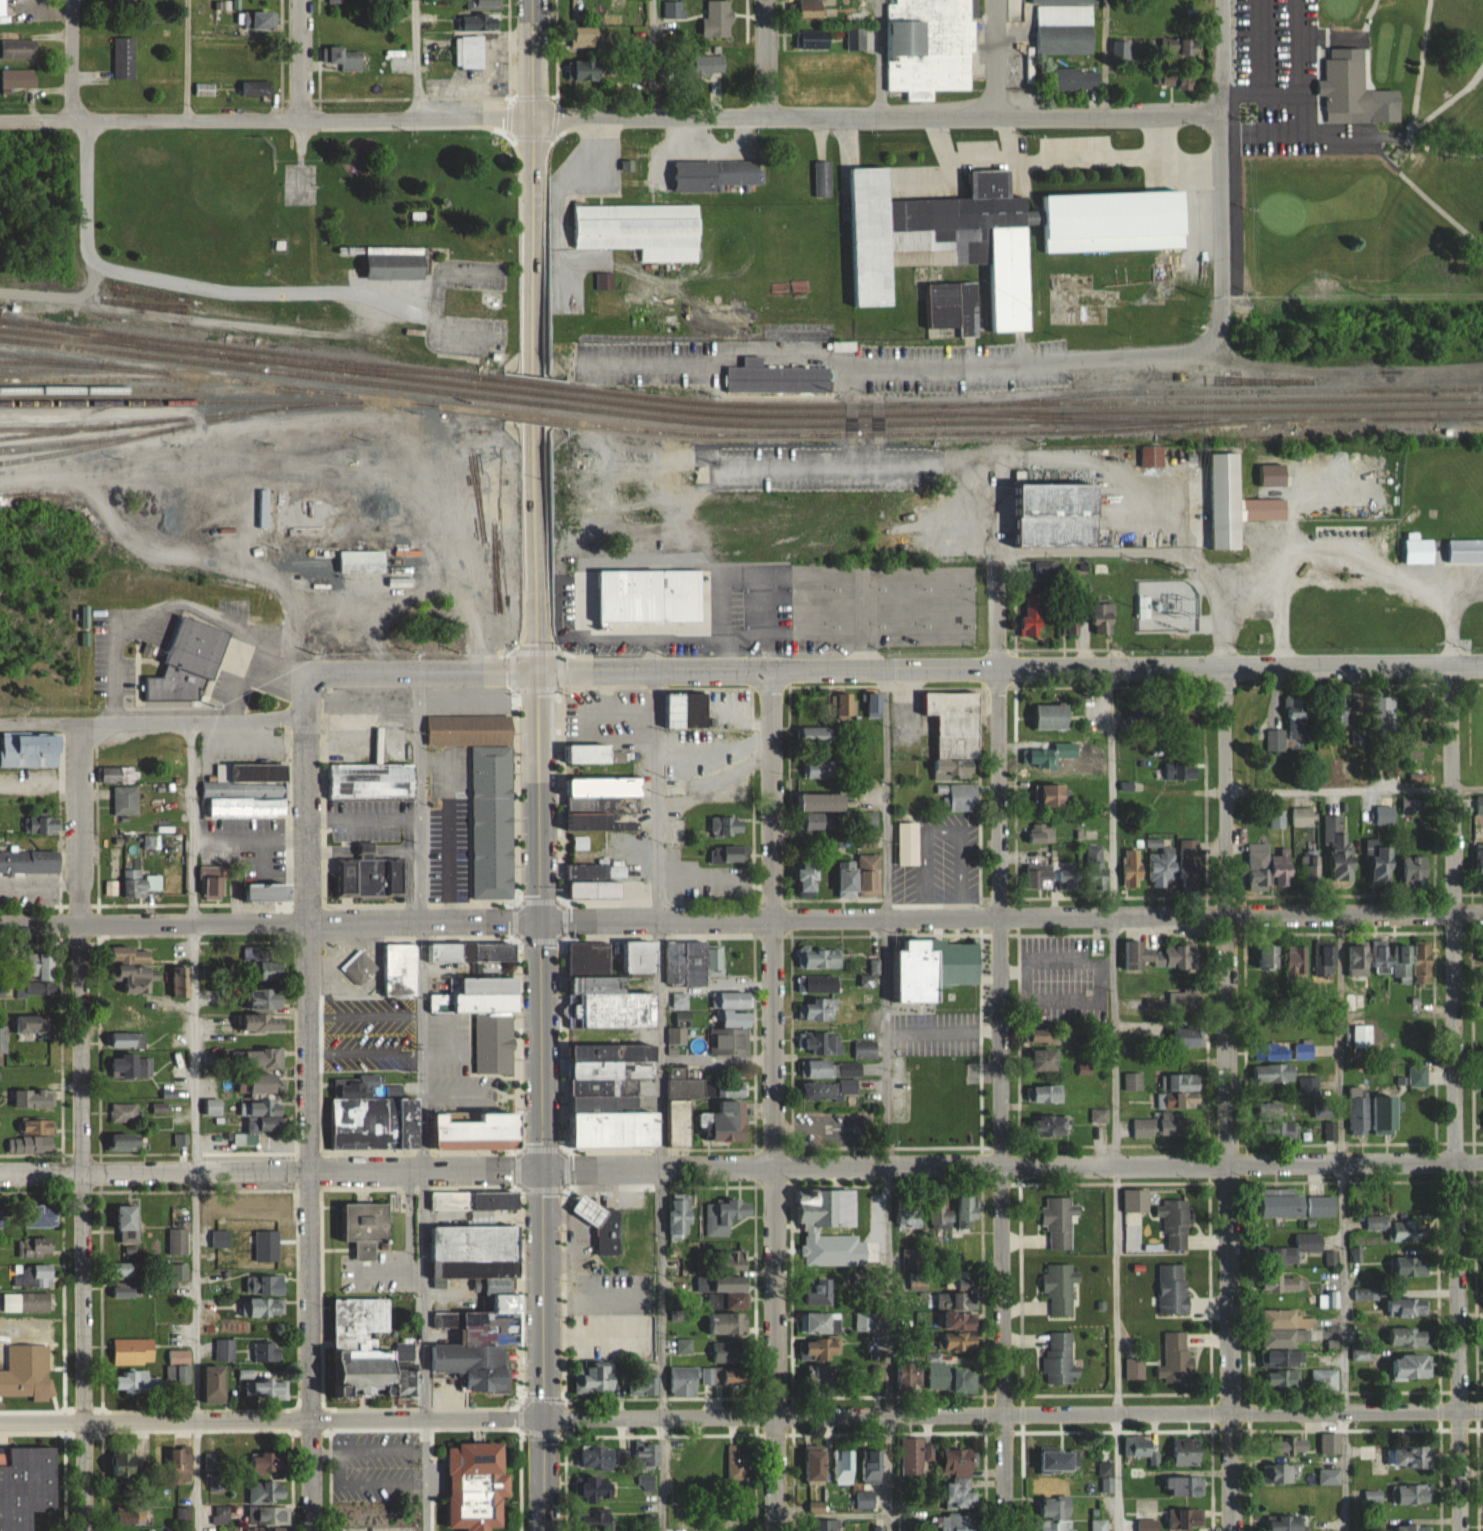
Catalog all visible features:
building: (344, 1)
building: (124, 4)
building: (482, 5)
road: (1373, 5)
building: (813, 8)
building: (718, 13)
building: (262, 21)
building: (481, 22)
building: (1064, 26)
building: (585, 37)
building: (812, 39)
building: (931, 46)
building: (1179, 47)
building: (18, 49)
building: (472, 52)
building: (124, 57)
road: (878, 57)
road: (995, 57)
road: (1222, 57)
road: (767, 58)
road: (415, 59)
road: (650, 59)
road: (73, 60)
road: (184, 60)
road: (306, 60)
building: (349, 61)
building: (709, 65)
building: (588, 70)
road: (1421, 70)
building: (18, 79)
building: (1077, 79)
building: (1168, 79)
parking lot: (1288, 80)
building: (257, 88)
building: (204, 89)
building: (1357, 90)
road: (1291, 97)
road: (1455, 98)
road: (880, 116)
road: (268, 120)
road: (1004, 137)
road: (1447, 137)
road: (1031, 158)
road: (1168, 164)
building: (714, 174)
building: (823, 179)
road: (1430, 195)
road: (1222, 214)
building: (1116, 222)
building: (641, 231)
building: (943, 240)
building: (396, 264)
road: (476, 269)
road: (201, 289)
road: (438, 292)
building: (954, 308)
railway: (1, 319)
building: (726, 320)
road: (468, 336)
railway: (112, 338)
railway: (110, 342)
railway: (239, 348)
road: (772, 349)
road: (1149, 355)
railway: (238, 359)
railway: (51, 361)
parking lot: (641, 363)
road: (649, 363)
parking lot: (954, 367)
road: (948, 368)
railway: (365, 369)
railway: (84, 370)
railway: (249, 370)
road: (1336, 373)
railway: (377, 376)
railway: (487, 378)
railway: (123, 380)
building: (776, 381)
railway: (249, 383)
railway: (533, 383)
railway: (170, 392)
railway: (1230, 392)
railway: (533, 395)
road: (805, 397)
railway: (1230, 401)
railway: (217, 402)
railway: (534, 406)
railway: (772, 407)
railway: (1230, 411)
railway: (958, 414)
railway: (752, 415)
railway: (534, 418)
railway: (180, 419)
railway: (1044, 419)
railway: (1462, 419)
railway: (1462, 420)
railway: (1296, 421)
railway: (1065, 424)
railway: (774, 425)
railway: (58, 428)
road: (419, 431)
railway: (930, 433)
railway: (138, 434)
building: (476, 445)
railway: (87, 448)
road: (166, 453)
road: (535, 459)
road: (823, 465)
parking lot: (821, 467)
road: (978, 483)
building: (263, 498)
building: (1236, 503)
building: (1060, 515)
building: (1419, 551)
building: (1465, 551)
road: (173, 556)
building: (363, 562)
building: (1146, 612)
building: (1032, 615)
building: (1103, 618)
road: (233, 626)
road: (117, 657)
building: (189, 664)
road: (1010, 669)
traffic signals: (538, 670)
road: (405, 671)
road: (245, 695)
building: (846, 704)
building: (875, 704)
building: (685, 710)
road: (117, 711)
building: (620, 711)
building: (1339, 714)
building: (1384, 714)
road: (1000, 716)
building: (1053, 717)
building: (1298, 719)
road: (152, 723)
building: (956, 733)
building: (816, 736)
building: (1275, 740)
road: (1225, 745)
building: (31, 750)
building: (590, 754)
building: (1041, 758)
building: (819, 769)
building: (1180, 771)
building: (119, 775)
building: (372, 779)
road: (1450, 787)
road: (1354, 790)
building: (249, 792)
road: (771, 794)
building: (485, 796)
building: (1050, 796)
building: (964, 797)
building: (125, 801)
building: (602, 802)
building: (825, 803)
building: (1479, 804)
building: (1384, 814)
road: (363, 815)
building: (1302, 816)
road: (306, 818)
building: (1276, 819)
building: (868, 820)
building: (820, 822)
road: (80, 823)
building: (42, 824)
building: (728, 827)
building: (1041, 833)
road: (249, 836)
building: (868, 841)
building: (908, 843)
building: (1339, 850)
building: (729, 855)
building: (29, 862)
building: (1479, 862)
building: (1381, 863)
building: (1190, 864)
building: (1257, 866)
building: (1096, 867)
building: (1161, 867)
building: (1416, 867)
building: (1132, 868)
building: (1282, 868)
building: (1310, 868)
building: (373, 876)
building: (1049, 876)
building: (810, 877)
building: (860, 877)
road: (40, 882)
building: (140, 883)
building: (213, 883)
building: (593, 883)
building: (270, 893)
road: (1011, 915)
road: (1114, 916)
traffic signals: (540, 920)
road: (270, 923)
building: (472, 951)
building: (132, 953)
building: (1153, 957)
building: (1270, 957)
building: (1381, 958)
building: (819, 959)
building: (1326, 959)
building: (1297, 960)
building: (266, 961)
building: (1424, 962)
building: (693, 963)
building: (42, 965)
building: (360, 968)
building: (937, 968)
building: (402, 969)
building: (211, 975)
building: (870, 976)
building: (138, 977)
building: (179, 980)
building: (818, 983)
building: (611, 985)
building: (32, 988)
building: (268, 997)
building: (732, 999)
building: (679, 1000)
building: (1180, 1000)
building: (820, 1009)
building: (488, 1017)
building: (733, 1017)
building: (262, 1021)
building: (127, 1022)
building: (35, 1023)
building: (398, 1027)
building: (358, 1034)
building: (676, 1035)
building: (1047, 1035)
building: (1363, 1036)
building: (1189, 1037)
building: (3, 1039)
building: (127, 1039)
building: (729, 1040)
building: (822, 1041)
building: (866, 1049)
building: (1273, 1051)
building: (1304, 1051)
building: (264, 1056)
building: (360, 1056)
building: (1047, 1059)
building: (131, 1066)
building: (832, 1068)
building: (37, 1072)
building: (1275, 1073)
building: (1419, 1076)
building: (1134, 1081)
building: (259, 1082)
building: (1182, 1082)
building: (1311, 1087)
building: (733, 1089)
building: (831, 1089)
building: (0, 1093)
building: (1048, 1093)
building: (615, 1095)
building: (35, 1097)
road: (660, 1100)
road: (886, 1100)
building: (1184, 1100)
road: (421, 1101)
building: (683, 1105)
building: (214, 1106)
building: (1360, 1111)
building: (125, 1112)
building: (1324, 1113)
building: (1386, 1113)
building: (1100, 1115)
building: (375, 1117)
building: (259, 1120)
building: (726, 1122)
building: (39, 1125)
building: (1051, 1125)
building: (1277, 1125)
road: (193, 1126)
building: (1163, 1126)
building: (482, 1131)
building: (126, 1141)
building: (35, 1144)
road: (1014, 1165)
traffic signals: (546, 1169)
road: (273, 1171)
building: (1137, 1200)
building: (1298, 1205)
building: (826, 1207)
building: (970, 1210)
building: (256, 1211)
building: (943, 1211)
building: (910, 1213)
building: (681, 1214)
building: (726, 1215)
building: (42, 1216)
building: (1, 1219)
building: (1060, 1220)
road: (1231, 1222)
road: (1342, 1222)
road: (1455, 1222)
building: (129, 1223)
road: (1001, 1223)
building: (1176, 1223)
road: (773, 1224)
road: (545, 1225)
building: (602, 1225)
road: (308, 1227)
building: (367, 1227)
road: (84, 1228)
building: (1399, 1228)
building: (178, 1241)
building: (221, 1241)
building: (1298, 1247)
building: (36, 1248)
building: (266, 1257)
building: (732, 1259)
building: (1409, 1265)
building: (916, 1269)
building: (128, 1271)
building: (179, 1272)
building: (35, 1276)
building: (1284, 1282)
building: (962, 1284)
building: (266, 1285)
building: (1060, 1288)
building: (1174, 1288)
building: (126, 1289)
building: (733, 1289)
building: (820, 1289)
building: (1365, 1294)
building: (503, 1295)
building: (715, 1301)
building: (957, 1301)
building: (36, 1302)
building: (263, 1307)
building: (1407, 1307)
building: (962, 1320)
building: (822, 1322)
building: (44, 1324)
building: (728, 1324)
building: (1410, 1337)
building: (1280, 1339)
building: (962, 1343)
road: (1115, 1348)
building: (825, 1349)
building: (224, 1350)
building: (134, 1351)
building: (372, 1351)
building: (267, 1352)
building: (730, 1353)
building: (1059, 1357)
building: (1178, 1361)
building: (179, 1366)
building: (1411, 1366)
building: (824, 1376)
building: (725, 1377)
building: (596, 1378)
building: (911, 1378)
building: (953, 1378)
building: (1282, 1379)
building: (1324, 1380)
building: (685, 1381)
building: (133, 1382)
building: (26, 1384)
building: (216, 1384)
building: (645, 1384)
building: (263, 1387)
road: (1013, 1412)
traffic signals: (544, 1418)
road: (271, 1420)
building: (1330, 1443)
building: (1290, 1444)
building: (1138, 1446)
road: (385, 1449)
road: (327, 1450)
building: (1187, 1451)
building: (1369, 1452)
building: (645, 1454)
building: (915, 1456)
building: (599, 1457)
building: (1409, 1457)
building: (1058, 1461)
building: (268, 1462)
building: (960, 1462)
building: (739, 1463)
building: (181, 1464)
building: (126, 1465)
road: (335, 1467)
building: (818, 1467)
building: (844, 1467)
building: (873, 1467)
building: (479, 1472)
building: (1279, 1473)
building: (1328, 1477)
building: (217, 1484)
road: (381, 1485)
building: (27, 1486)
building: (1185, 1486)
building: (598, 1490)
building: (269, 1492)
building: (961, 1493)
building: (1410, 1494)
building: (1371, 1497)
building: (865, 1500)
building: (818, 1509)
building: (361, 1513)
building: (131, 1515)
building: (184, 1515)
building: (1056, 1515)
building: (221, 1516)
building: (269, 1516)
road: (832, 1516)
building: (1185, 1518)
building: (598, 1520)
building: (1285, 1523)
building: (1099, 1525)
building: (1147, 1525)
building: (1410, 1526)
building: (268, 1530)

